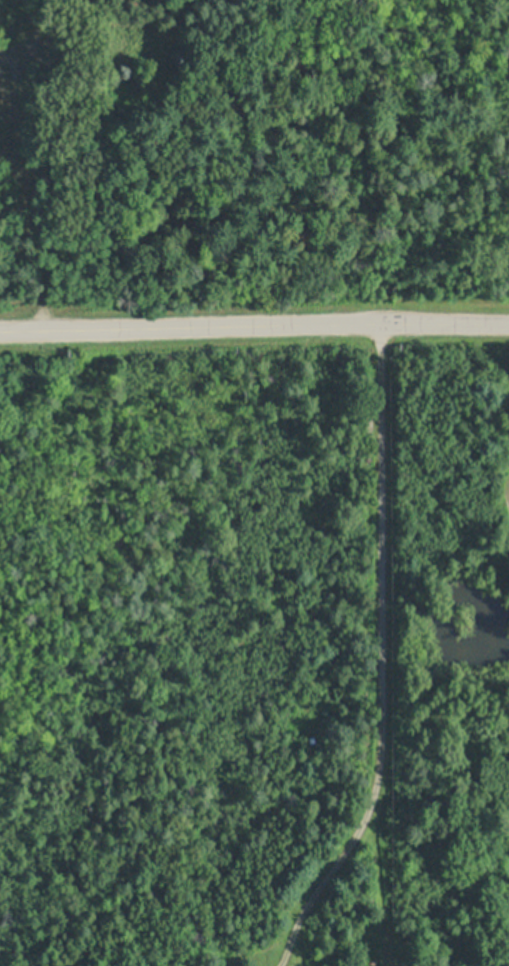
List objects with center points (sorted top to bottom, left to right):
road: (254, 326)
road: (384, 657)

